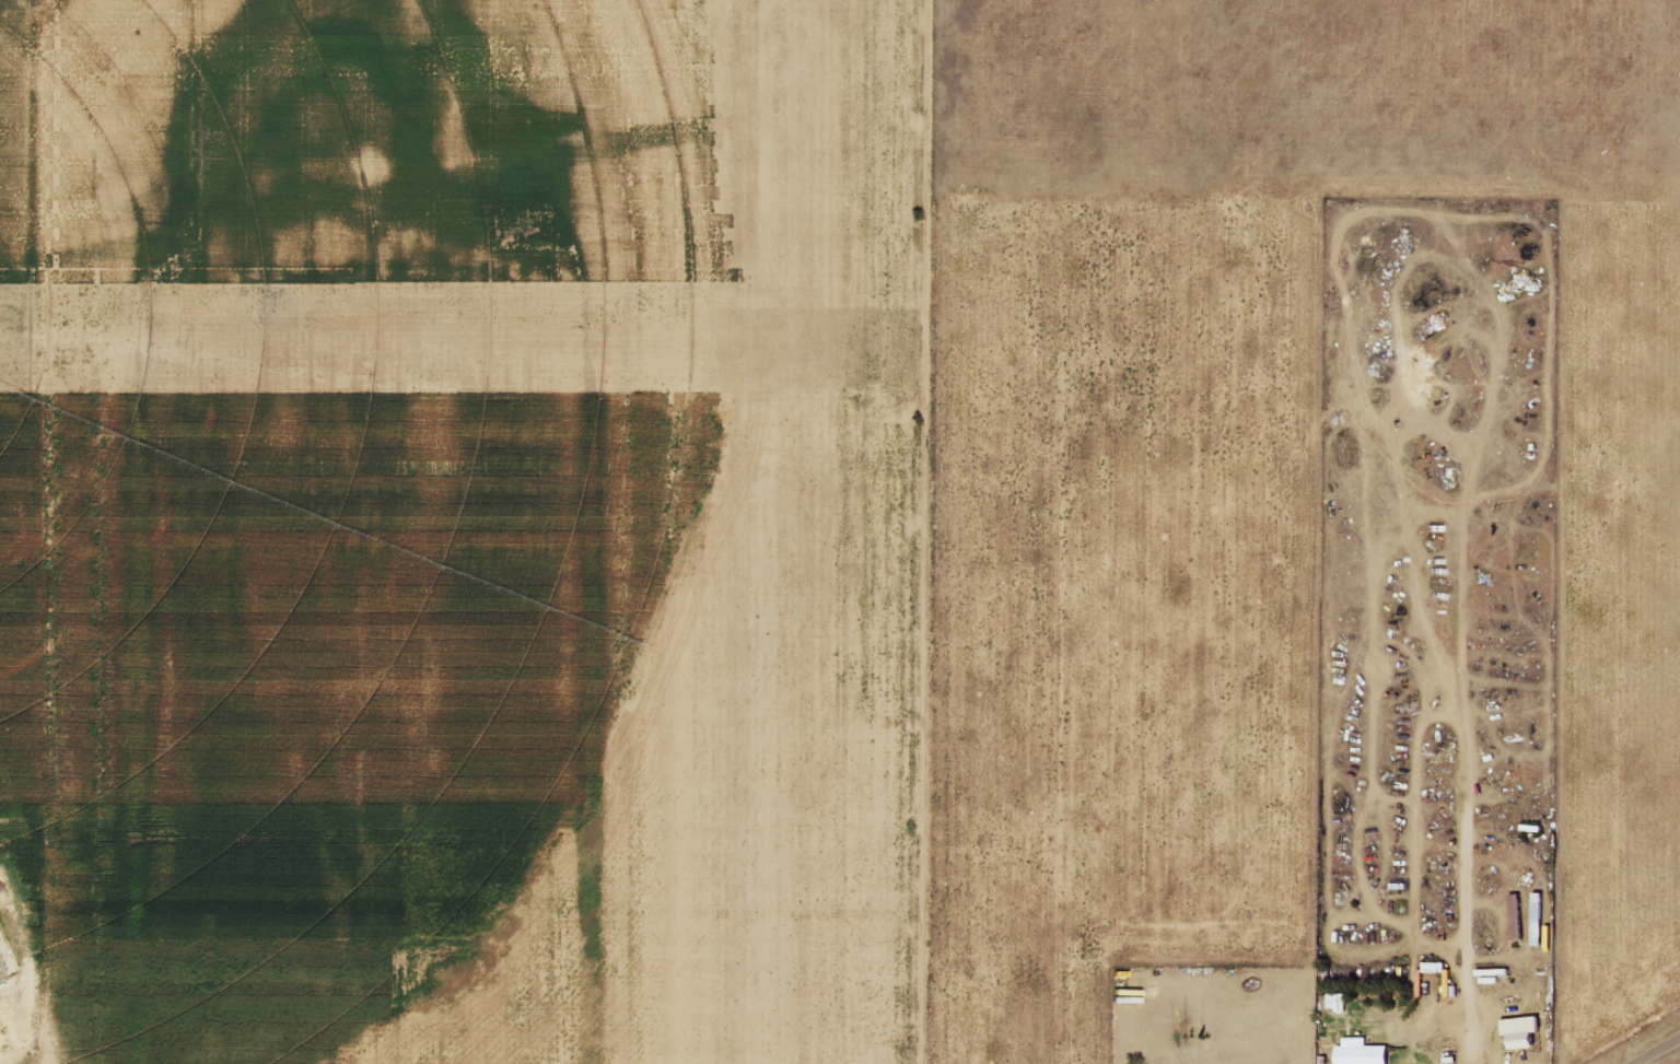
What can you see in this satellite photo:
building: (4, 948)
building: (2, 972)
building: (1424, 983)
building: (1341, 1002)
building: (1524, 1025)
road: (1656, 1050)
building: (1366, 1052)

